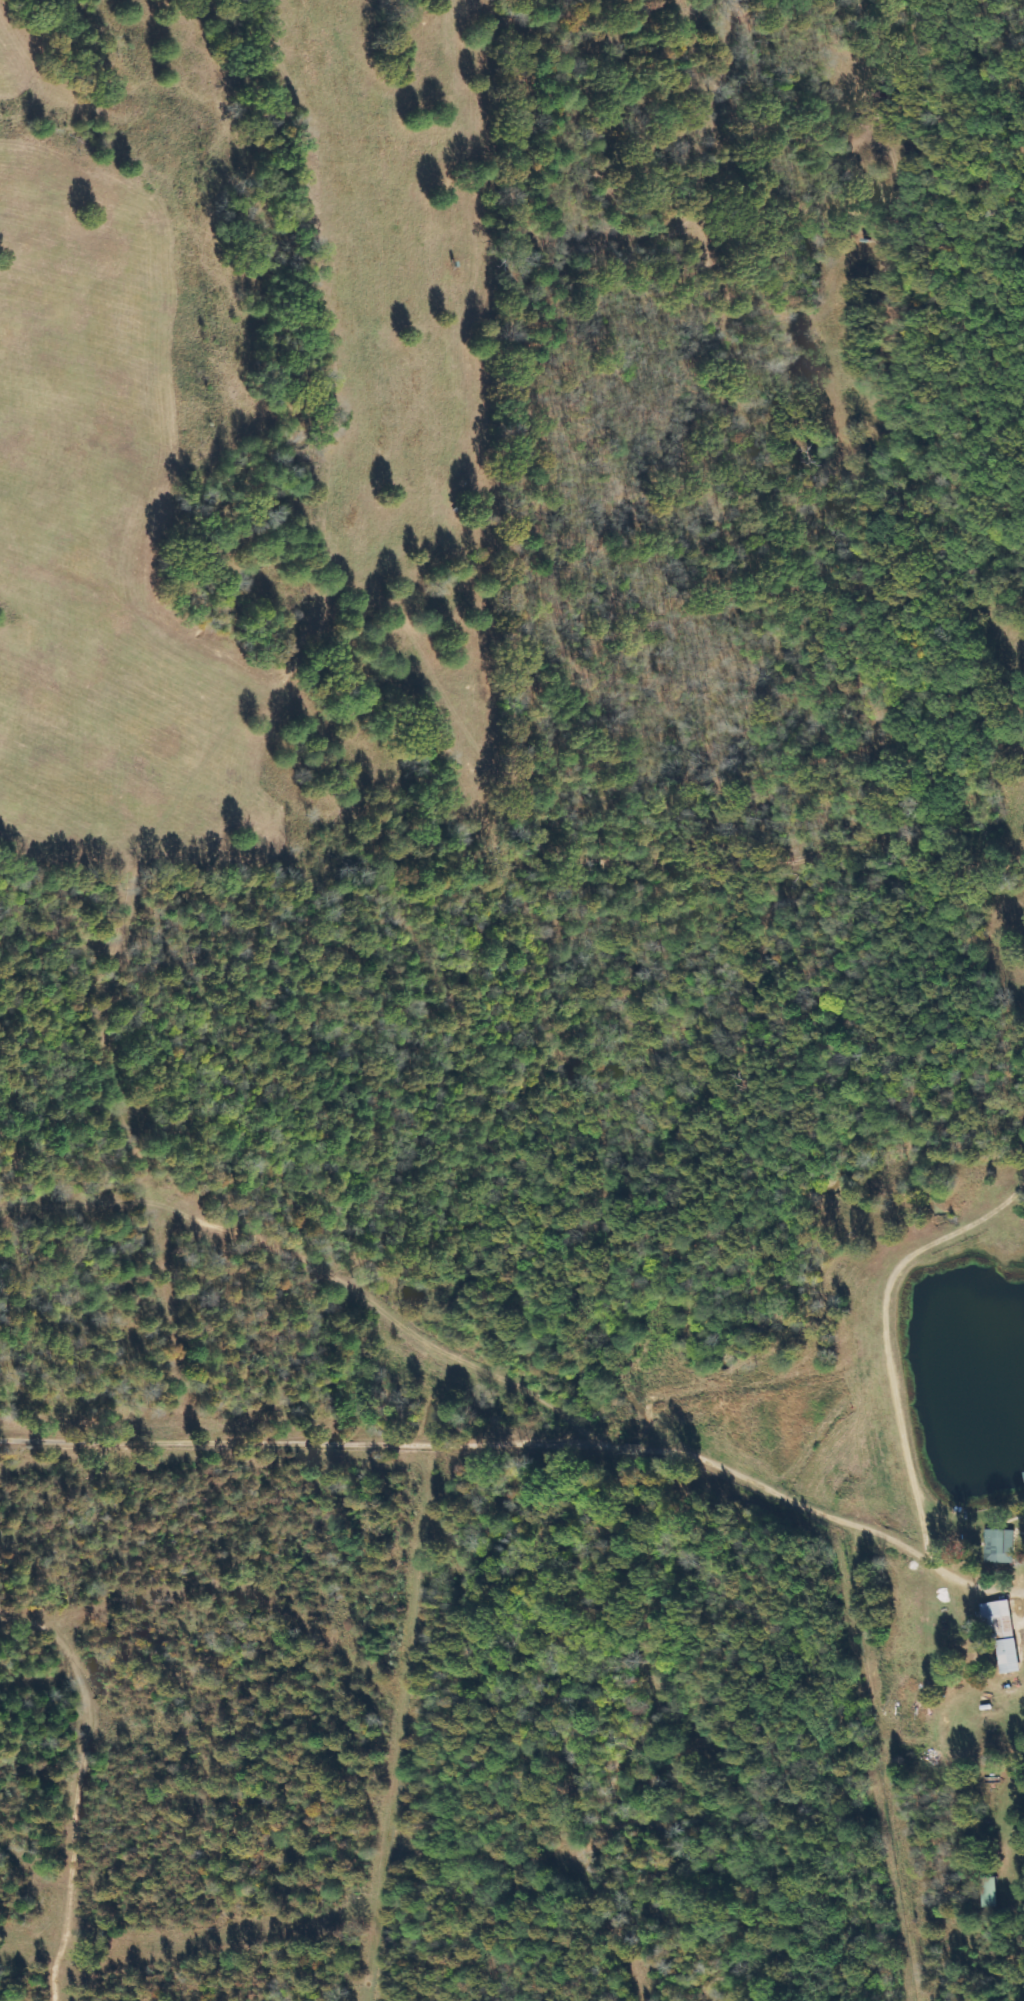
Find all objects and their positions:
building: (1001, 1545)
building: (1006, 1633)
building: (993, 1891)

